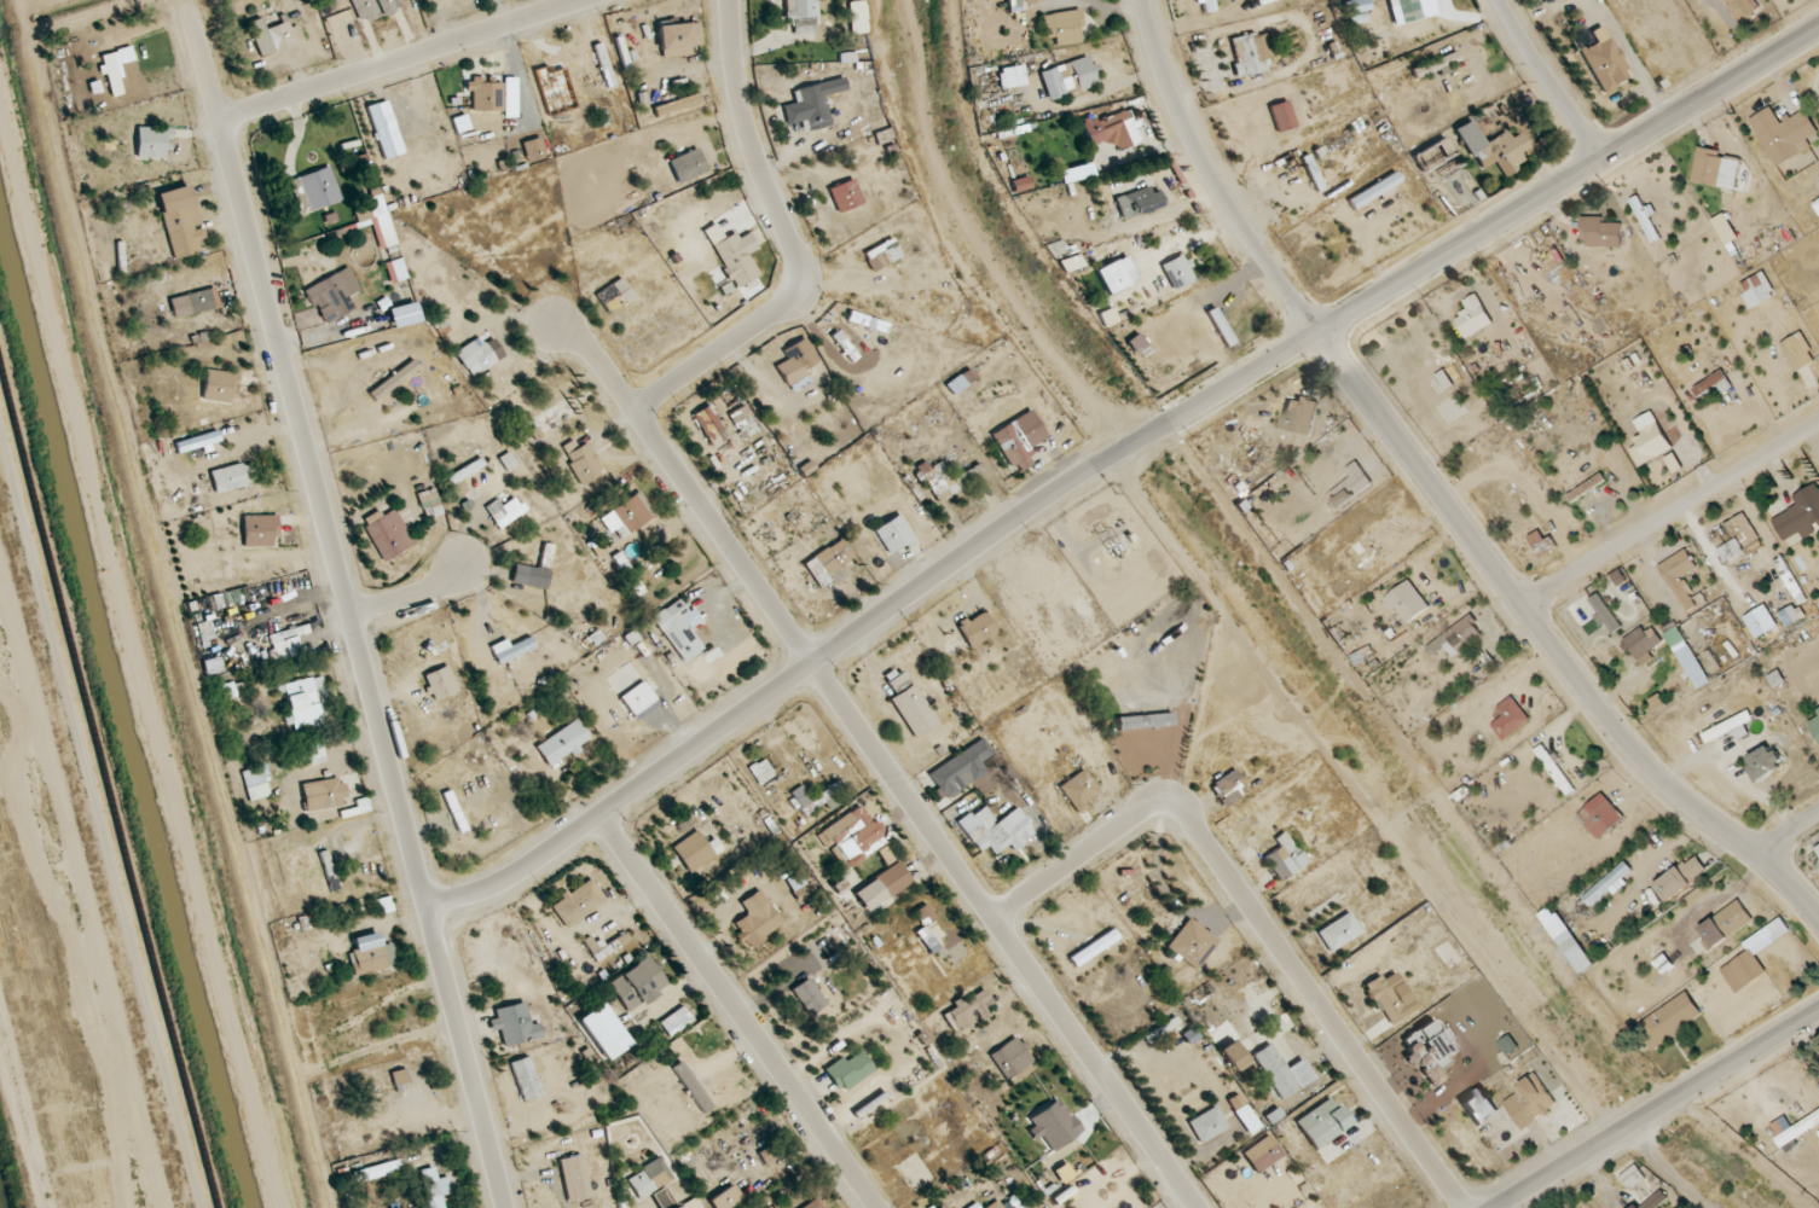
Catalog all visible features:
building: (1029, 1)
building: (1209, 5)
building: (1356, 5)
building: (372, 8)
building: (1743, 8)
building: (1413, 10)
building: (801, 17)
building: (858, 21)
building: (1064, 27)
building: (282, 36)
building: (678, 37)
building: (1250, 52)
building: (856, 56)
road: (411, 59)
building: (1605, 60)
building: (1437, 65)
building: (109, 69)
building: (1013, 75)
building: (1071, 76)
road: (1549, 80)
building: (487, 94)
building: (678, 101)
building: (811, 104)
building: (1282, 115)
building: (383, 126)
building: (1113, 129)
building: (589, 132)
building: (1779, 132)
building: (509, 135)
building: (1491, 146)
building: (688, 165)
building: (1716, 167)
building: (1361, 172)
building: (1076, 173)
building: (315, 188)
building: (1374, 190)
building: (845, 194)
building: (1140, 201)
building: (1817, 204)
building: (678, 215)
building: (1646, 217)
building: (183, 220)
building: (1601, 231)
road: (793, 244)
building: (884, 255)
building: (734, 259)
building: (1072, 262)
building: (1178, 271)
building: (1116, 274)
building: (1760, 285)
building: (334, 292)
building: (192, 302)
building: (1475, 316)
building: (1797, 350)
building: (476, 356)
building: (796, 364)
building: (1452, 374)
building: (394, 379)
building: (961, 381)
building: (220, 385)
building: (1713, 387)
building: (467, 399)
road: (1786, 399)
building: (1299, 414)
road: (1768, 419)
building: (745, 422)
building: (709, 425)
road: (1169, 426)
road: (1814, 437)
building: (1019, 440)
building: (198, 441)
building: (1651, 443)
road: (1114, 460)
building: (583, 461)
road: (1194, 461)
road: (1701, 467)
building: (465, 470)
road: (1775, 475)
building: (233, 476)
building: (946, 478)
building: (1351, 484)
building: (1588, 486)
road: (1436, 490)
road: (1609, 490)
building: (430, 503)
building: (508, 512)
building: (631, 513)
road: (1670, 515)
building: (1800, 516)
building: (260, 530)
building: (388, 533)
building: (893, 535)
building: (1737, 539)
building: (1542, 542)
road: (1705, 546)
building: (577, 554)
building: (830, 561)
road: (1651, 568)
building: (534, 571)
building: (627, 571)
building: (1679, 575)
road: (410, 599)
building: (1407, 602)
road: (344, 604)
building: (677, 620)
building: (977, 628)
building: (1459, 637)
building: (286, 644)
building: (1643, 645)
building: (702, 656)
building: (1687, 657)
building: (440, 683)
building: (1804, 687)
building: (231, 691)
building: (638, 698)
building: (306, 702)
building: (911, 704)
building: (1510, 718)
building: (1145, 721)
building: (1814, 721)
building: (1728, 726)
building: (566, 747)
road: (877, 761)
building: (1765, 761)
building: (1556, 768)
building: (961, 769)
building: (761, 771)
building: (1229, 788)
building: (1079, 790)
building: (324, 794)
building: (815, 796)
road: (1447, 800)
building: (454, 811)
building: (1600, 815)
building: (1001, 830)
road: (98, 831)
road: (1789, 835)
building: (852, 836)
building: (1818, 848)
building: (693, 850)
building: (1286, 856)
building: (1681, 877)
building: (1607, 883)
building: (882, 887)
building: (578, 901)
building: (1564, 911)
road: (1257, 918)
building: (757, 920)
building: (1726, 923)
building: (1339, 931)
building: (1192, 942)
building: (607, 945)
building: (1094, 947)
building: (926, 951)
building: (371, 954)
building: (639, 983)
building: (809, 995)
building: (1389, 998)
building: (968, 1010)
road: (736, 1012)
building: (676, 1021)
building: (1669, 1021)
building: (514, 1024)
building: (604, 1030)
building: (1430, 1051)
building: (1234, 1055)
building: (1012, 1057)
building: (850, 1069)
building: (1275, 1070)
building: (400, 1078)
building: (526, 1078)
building: (693, 1086)
building: (1529, 1102)
building: (1479, 1105)
building: (1244, 1113)
road: (1662, 1113)
building: (1322, 1122)
building: (1055, 1123)
building: (1207, 1125)
building: (1798, 1129)
building: (383, 1132)
building: (1263, 1154)
building: (380, 1171)
road: (1666, 1173)
building: (650, 1178)
building: (435, 1187)
building: (1643, 1187)
building: (728, 1198)
building: (813, 1203)
building: (995, 1204)
building: (677, 1207)
building: (775, 1207)
building: (1580, 1207)

